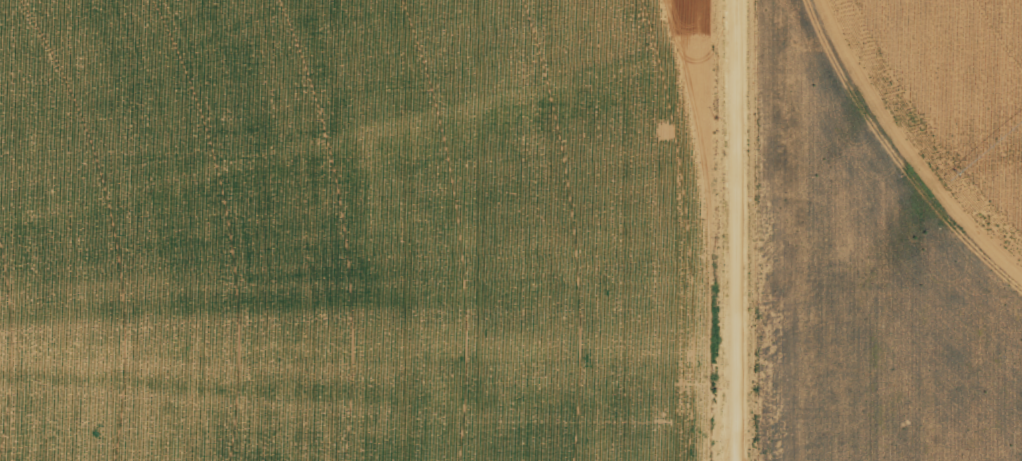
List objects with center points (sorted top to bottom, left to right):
road: (755, 230)

